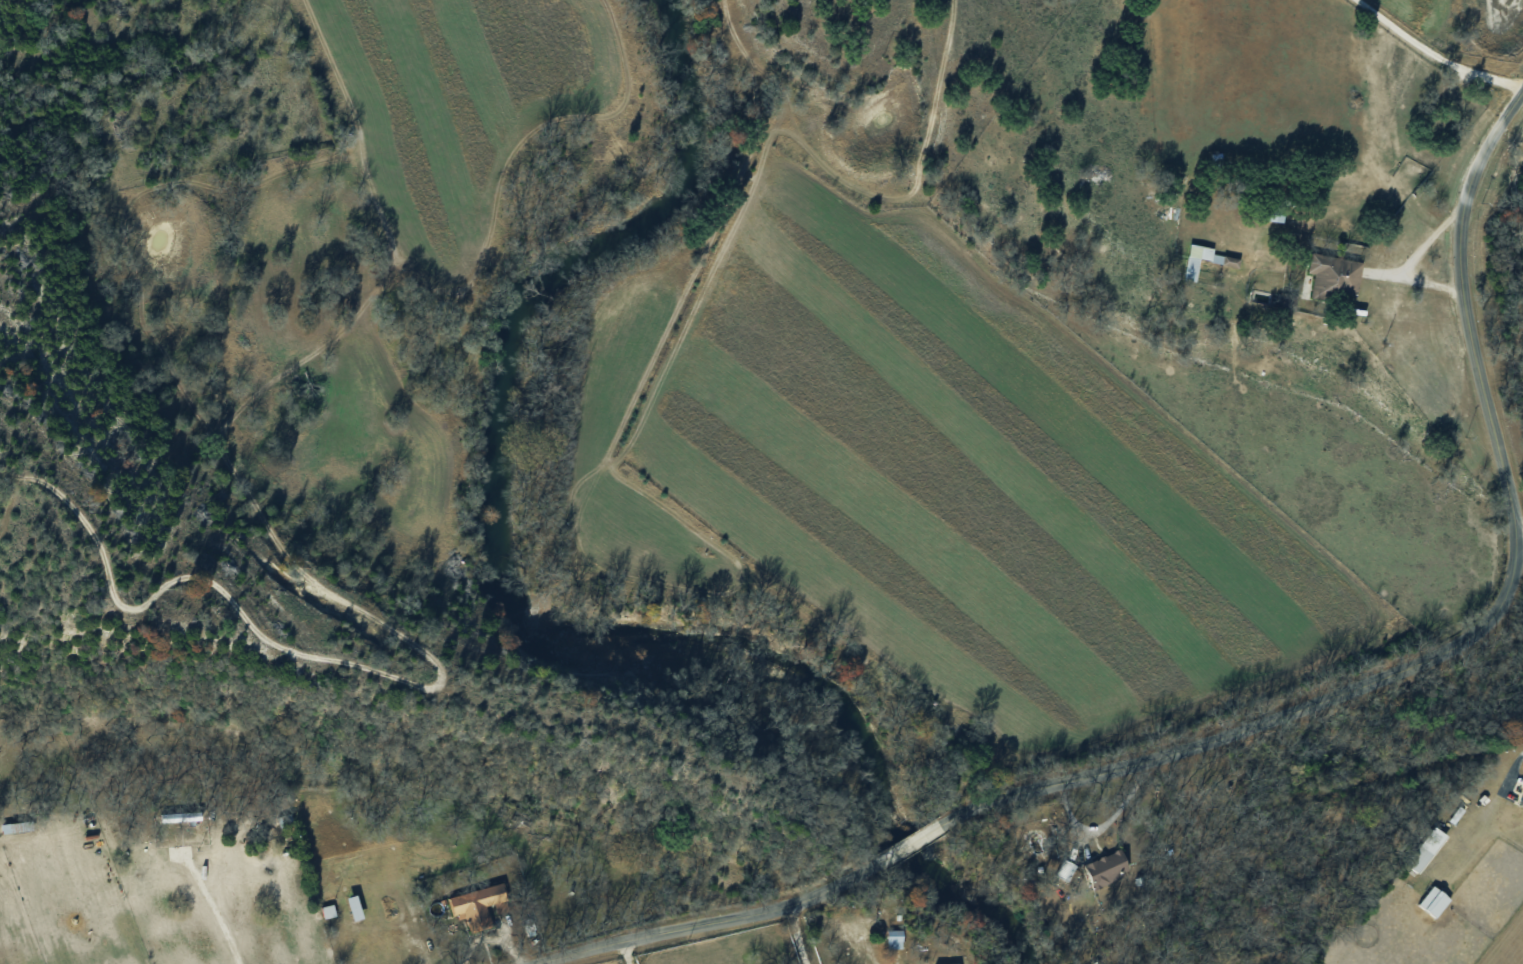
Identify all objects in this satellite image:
road: (1436, 53)
road: (1413, 255)
building: (1198, 259)
building: (1333, 277)
road: (1518, 533)
road: (1471, 628)
building: (1521, 802)
road: (916, 844)
building: (1425, 849)
building: (1105, 868)
building: (1064, 870)
building: (1432, 901)
road: (790, 903)
building: (475, 904)
road: (217, 918)
road: (801, 933)
building: (892, 939)
road: (604, 944)
road: (628, 952)
building: (950, 963)

